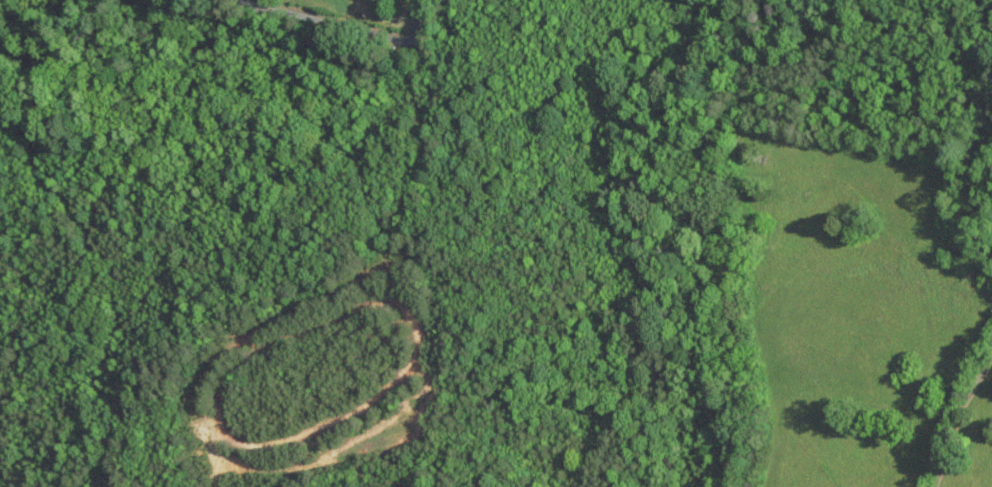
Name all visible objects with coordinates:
road: (331, 21)
road: (418, 23)
road: (962, 422)

